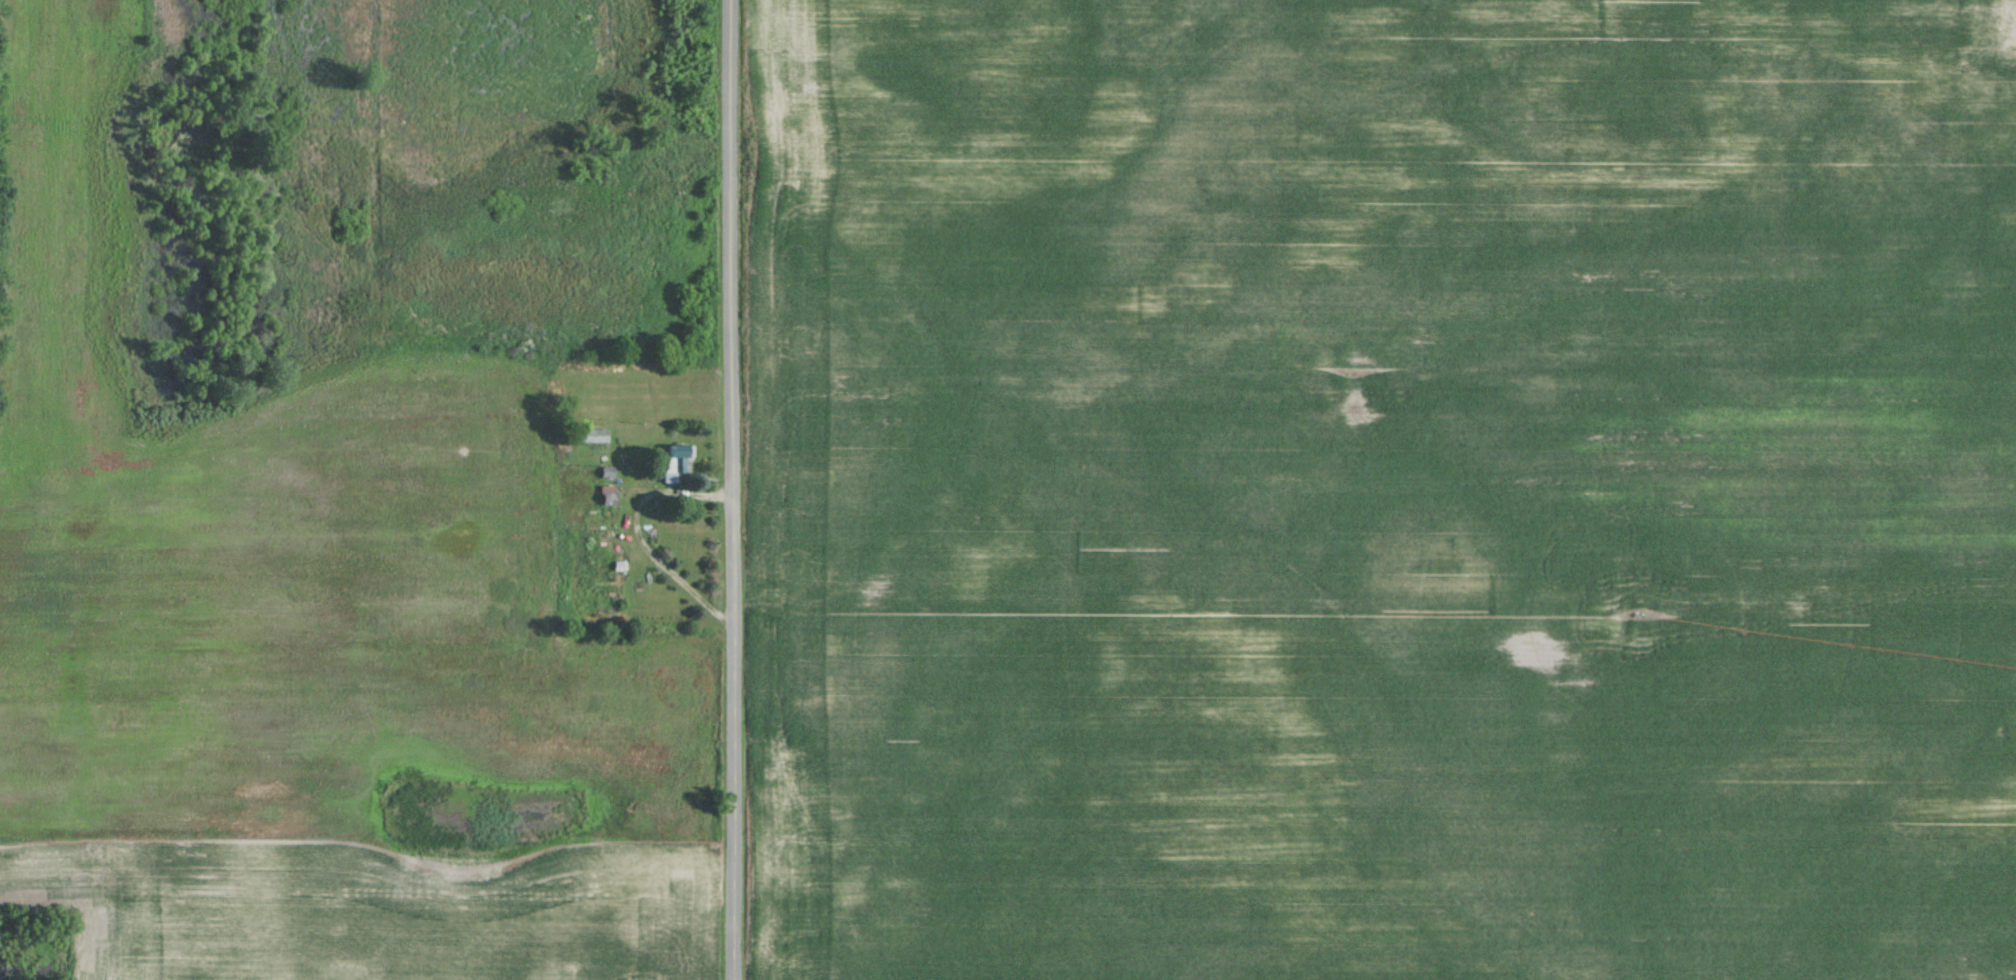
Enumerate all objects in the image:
building: (591, 436)
building: (675, 461)
road: (738, 489)
road: (634, 533)

